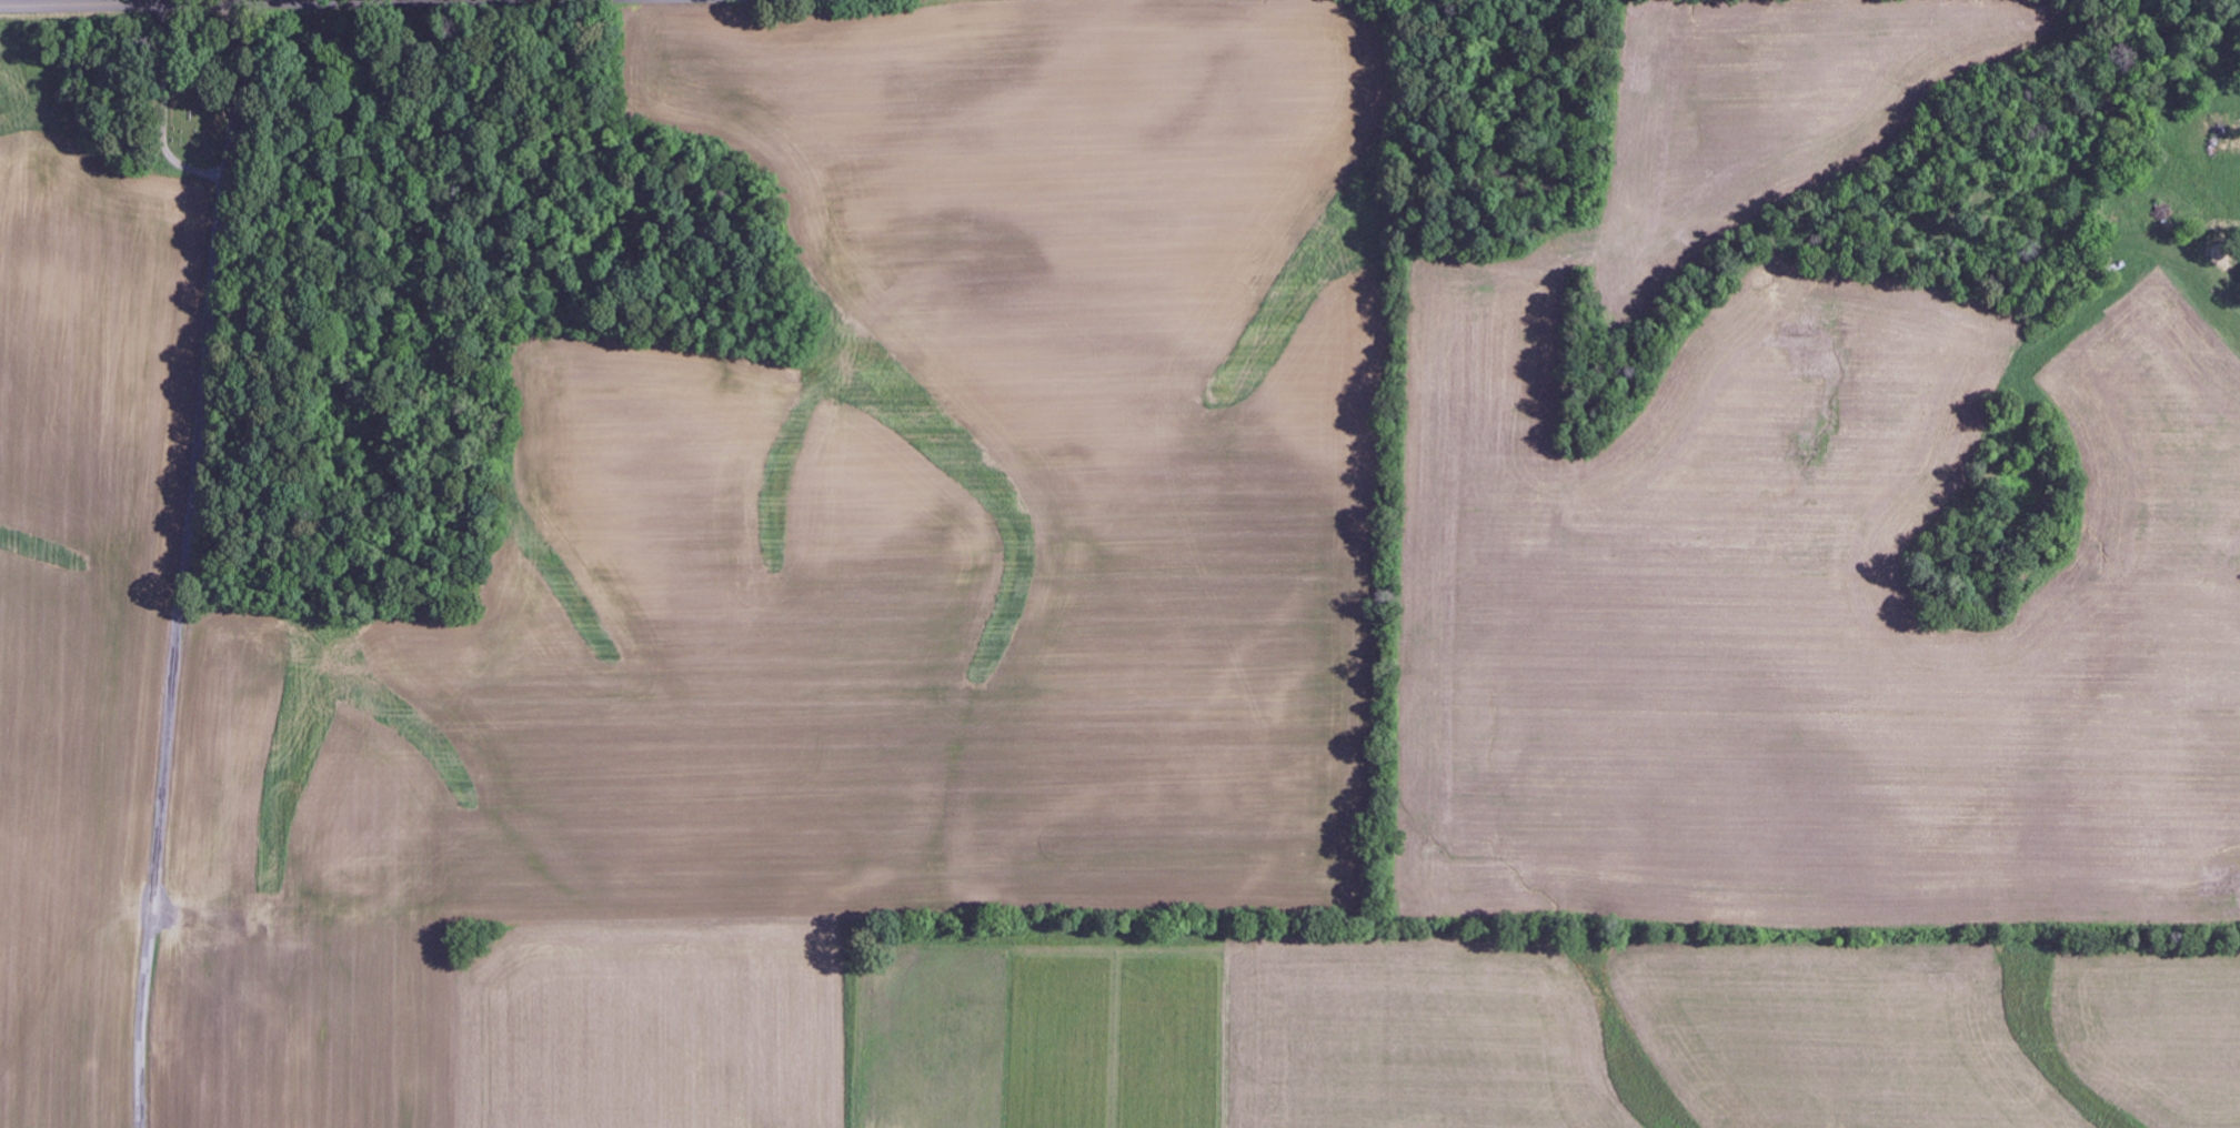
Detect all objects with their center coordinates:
road: (155, 3)
park: (193, 111)
road: (183, 563)

